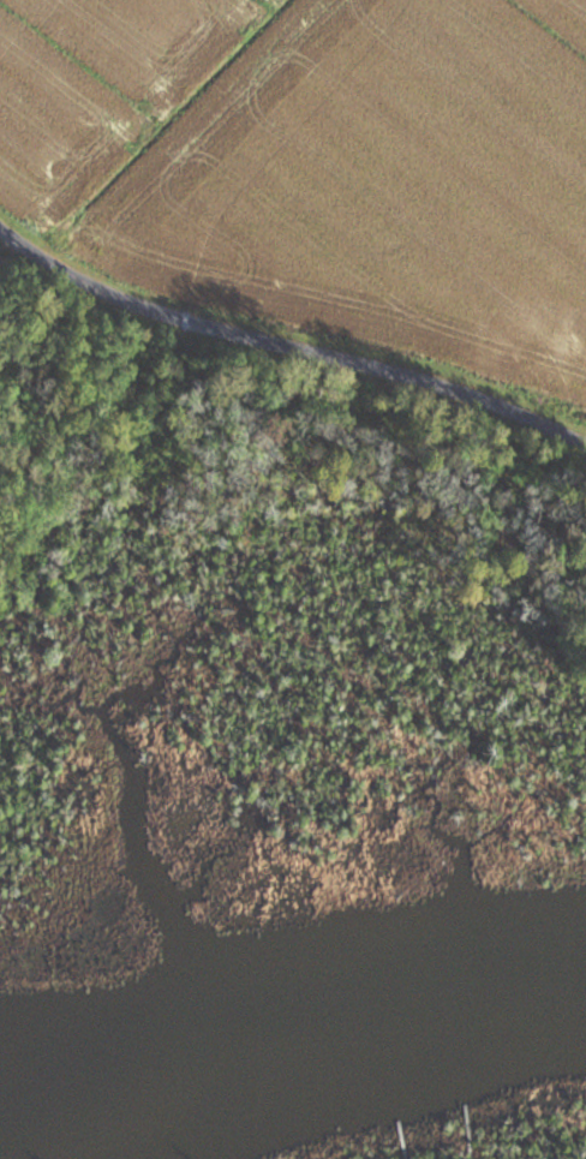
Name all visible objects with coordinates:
road: (279, 375)

